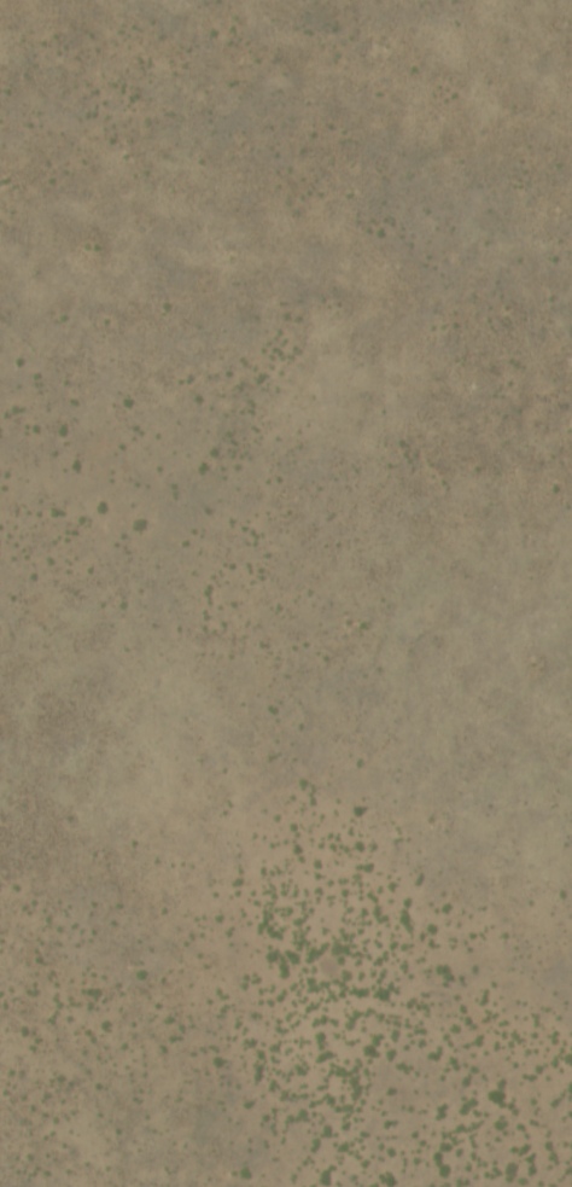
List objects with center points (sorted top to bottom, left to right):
road: (16, 25)

